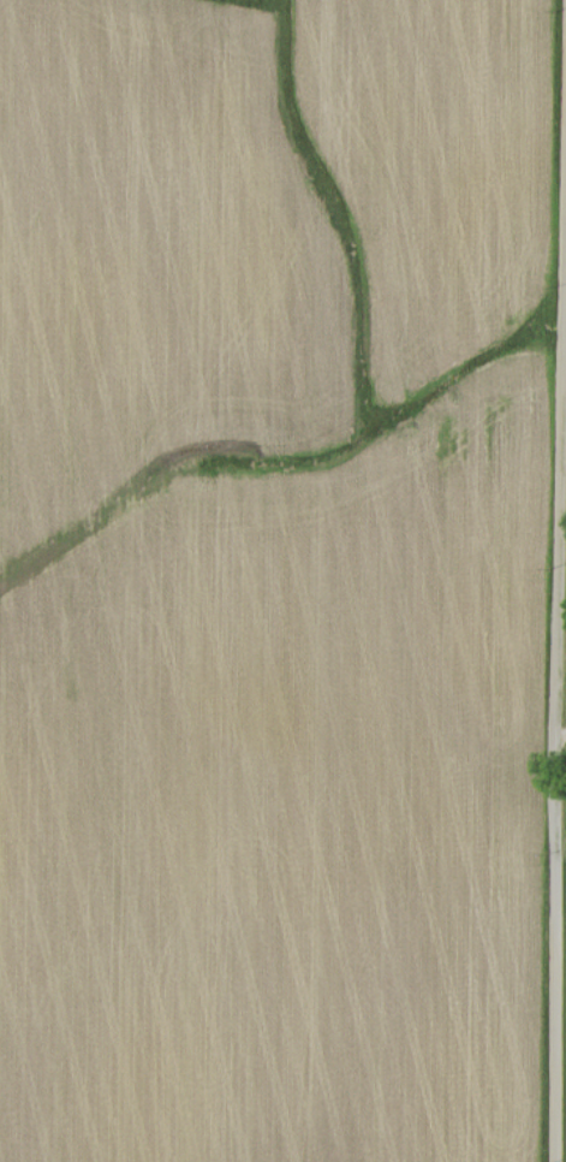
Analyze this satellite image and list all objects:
road: (558, 580)
road: (561, 635)
road: (561, 728)

